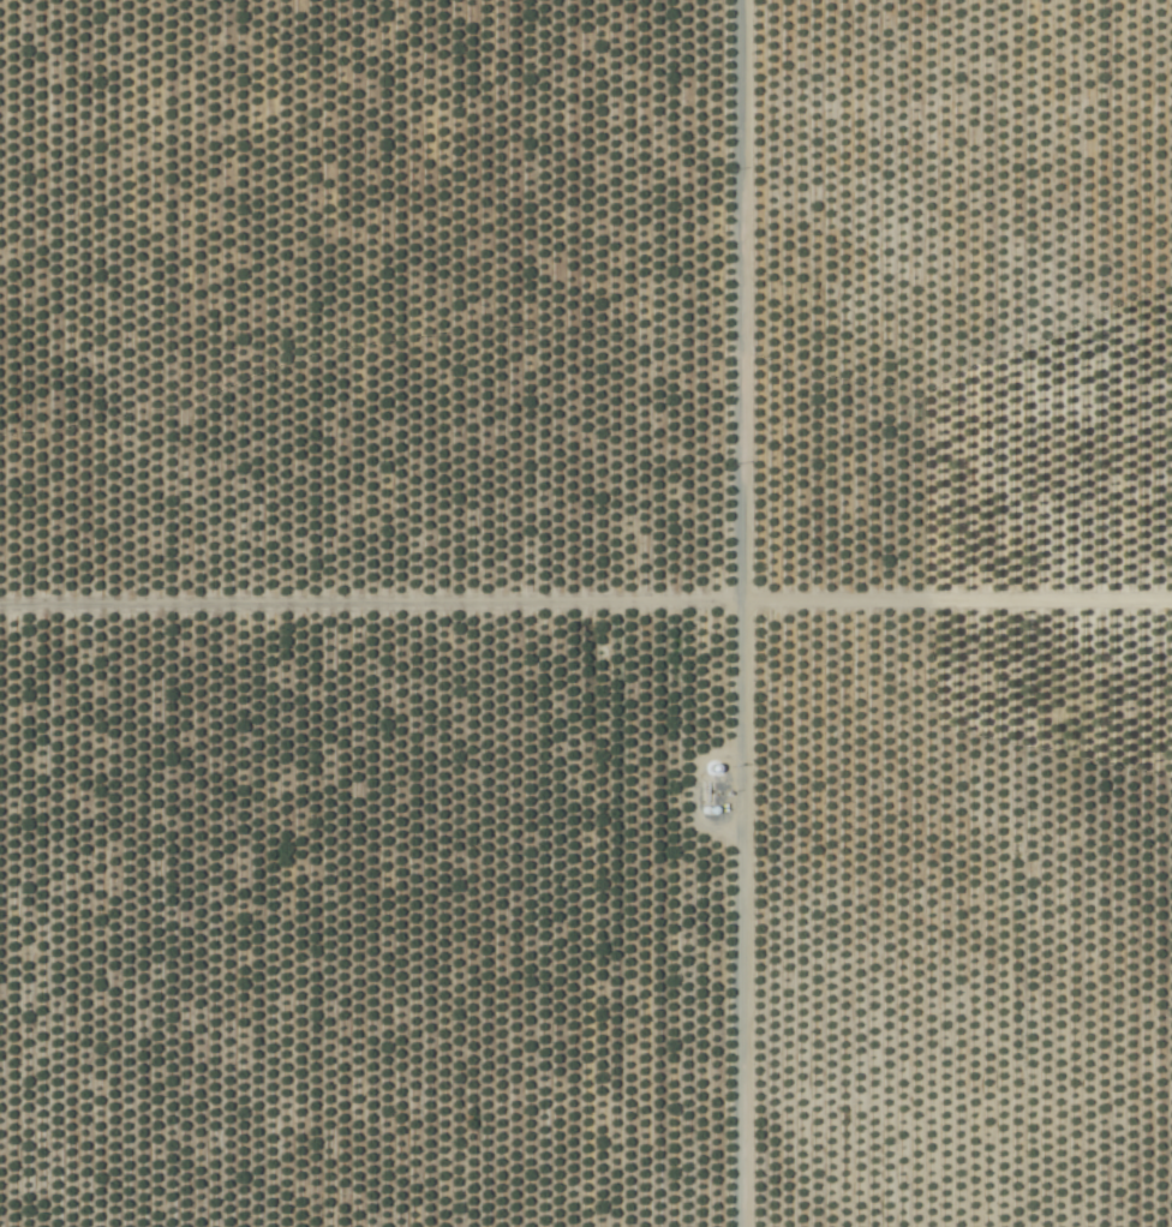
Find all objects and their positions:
crop: (366, 615)

